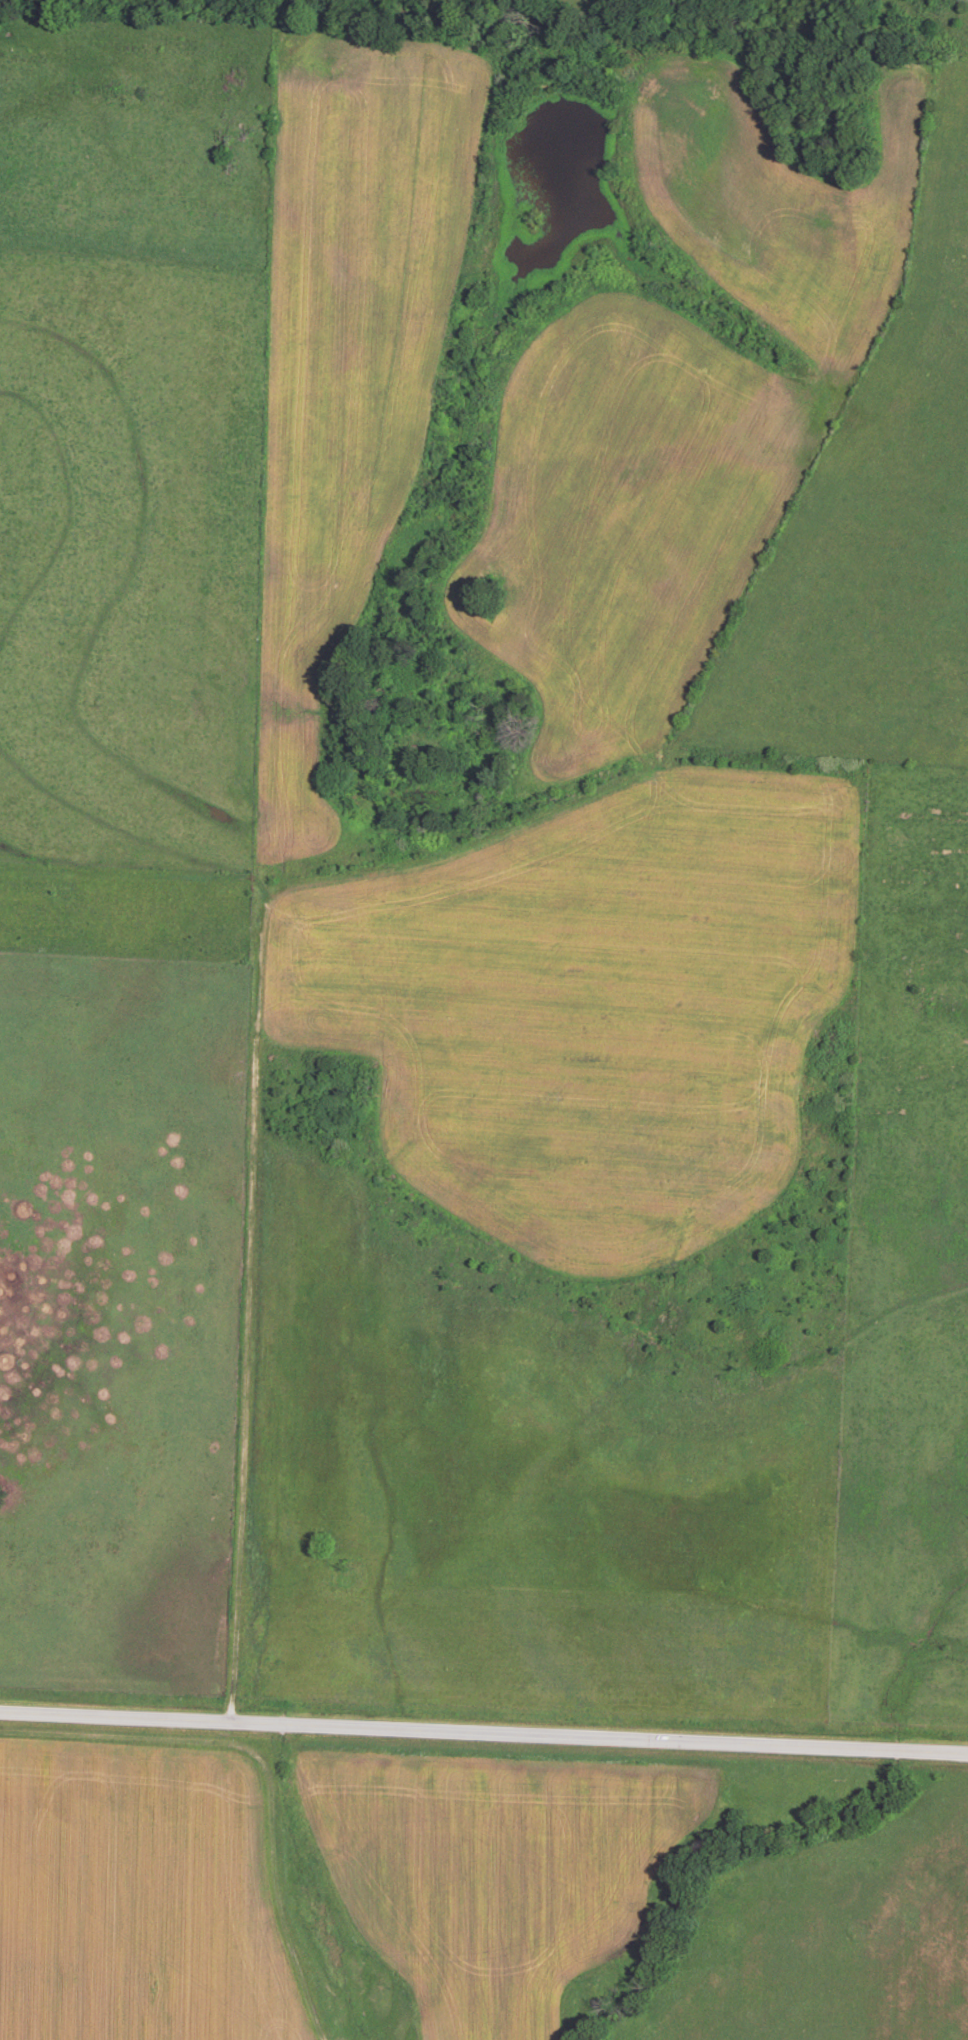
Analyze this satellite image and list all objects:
road: (483, 1735)

